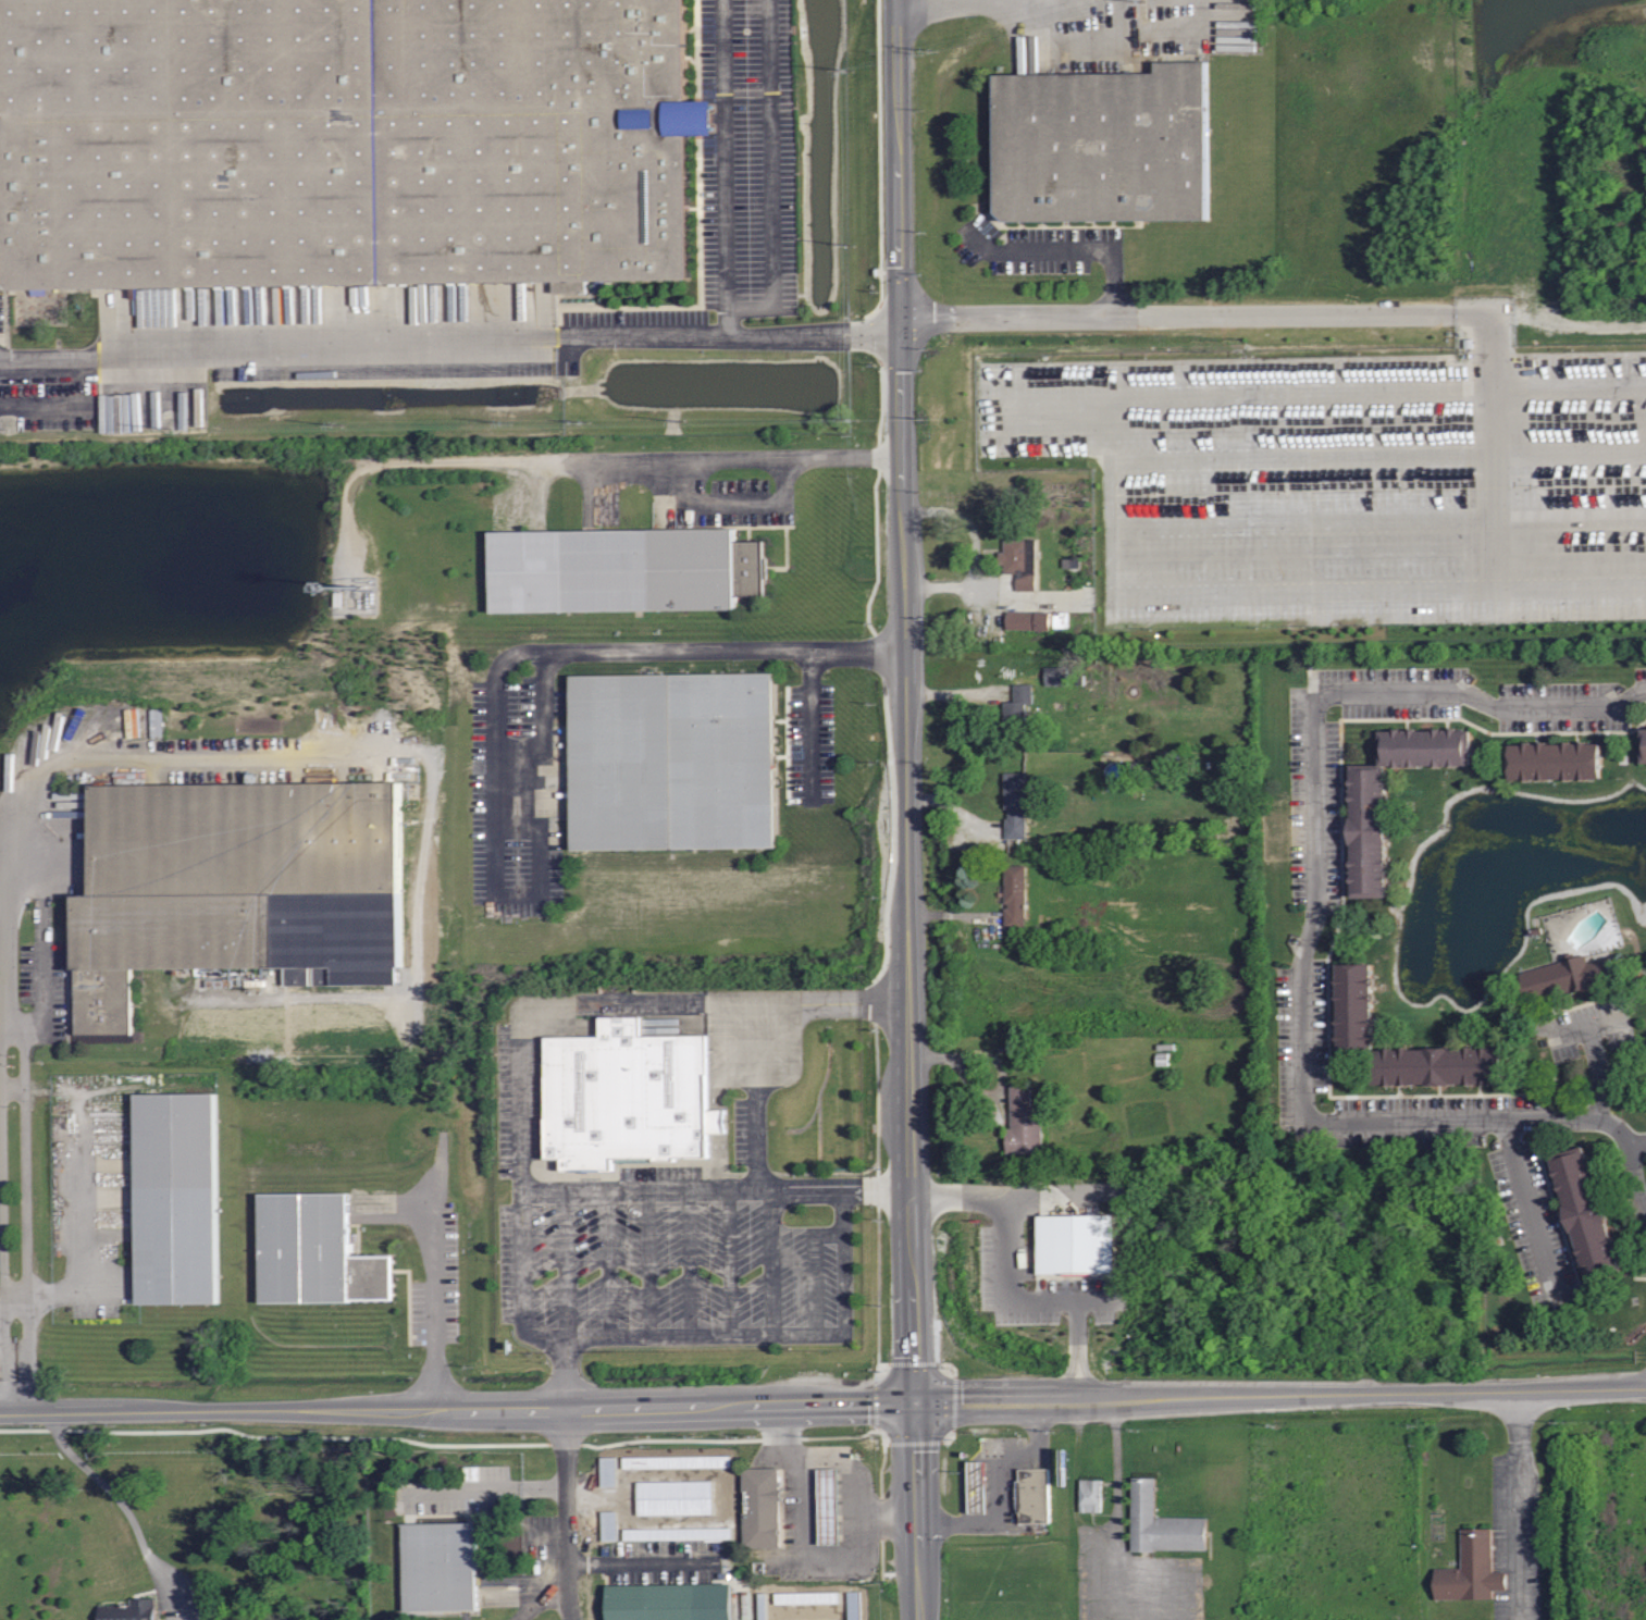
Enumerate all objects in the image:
road: (943, 8)
building: (347, 145)
building: (1105, 146)
road: (725, 166)
road: (771, 175)
road: (1075, 249)
road: (1440, 312)
road: (1026, 316)
road: (450, 339)
road: (697, 456)
road: (738, 502)
building: (1019, 560)
building: (624, 566)
building: (1031, 621)
building: (1063, 621)
building: (1059, 677)
road: (1608, 703)
building: (1016, 709)
road: (496, 717)
road: (812, 727)
building: (1644, 745)
road: (73, 758)
building: (1556, 760)
building: (676, 765)
building: (1369, 791)
building: (1015, 805)
road: (908, 809)
building: (219, 876)
building: (1016, 896)
road: (46, 901)
building: (1568, 979)
road: (1300, 985)
road: (46, 997)
building: (1354, 1005)
road: (1571, 1034)
road: (524, 1035)
road: (1597, 1059)
road: (16, 1089)
road: (759, 1093)
building: (627, 1096)
building: (1025, 1122)
road: (1638, 1142)
road: (720, 1188)
building: (178, 1196)
road: (1532, 1204)
building: (1585, 1213)
road: (5, 1219)
road: (28, 1222)
road: (79, 1225)
building: (1077, 1245)
building: (318, 1251)
road: (568, 1264)
road: (611, 1264)
road: (652, 1264)
road: (693, 1264)
road: (733, 1264)
road: (777, 1264)
road: (819, 1271)
road: (1015, 1277)
road: (438, 1293)
road: (18, 1296)
road: (780, 1338)
road: (822, 1402)
road: (1113, 1472)
road: (544, 1487)
building: (978, 1487)
road: (465, 1488)
road: (1001, 1488)
road: (1519, 1489)
building: (1034, 1495)
road: (125, 1506)
building: (831, 1506)
building: (764, 1507)
road: (564, 1512)
building: (1156, 1521)
road: (803, 1551)
road: (640, 1565)
building: (437, 1567)
building: (1473, 1569)
building: (670, 1602)
building: (129, 1610)

